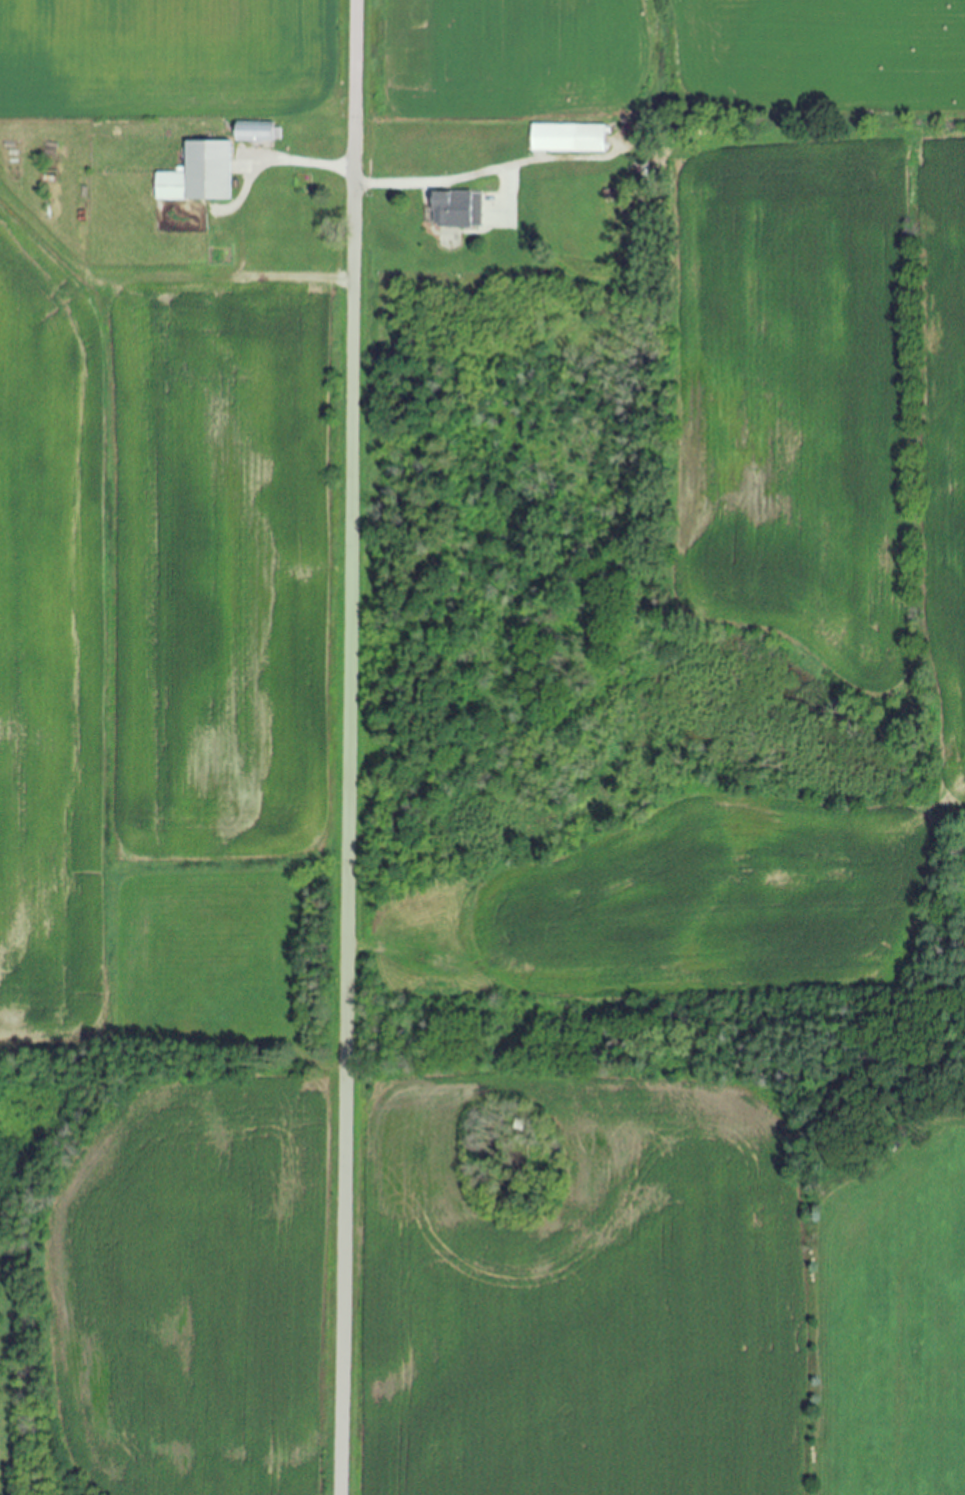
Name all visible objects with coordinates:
building: (252, 132)
building: (566, 139)
road: (309, 165)
road: (476, 174)
building: (197, 176)
building: (442, 211)
road: (346, 747)

